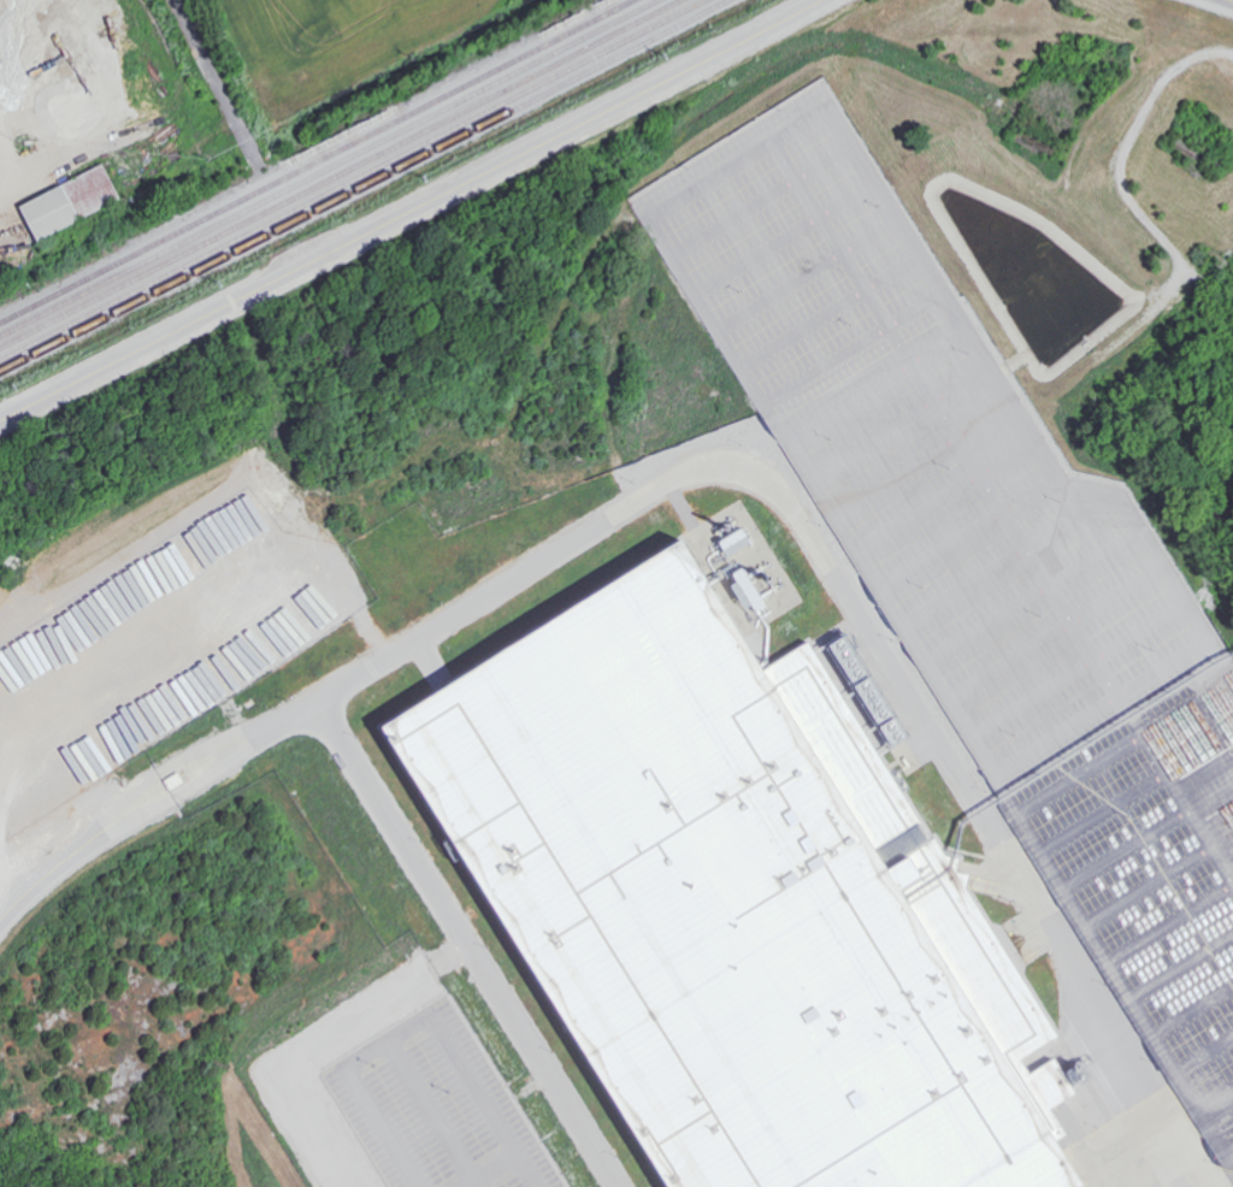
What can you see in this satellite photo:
road: (1229, 0)
railway: (889, 13)
railway: (1202, 18)
crop: (336, 37)
railway: (317, 161)
railway: (332, 169)
railway: (342, 175)
railway: (353, 179)
railway: (365, 185)
building: (75, 202)
road: (412, 212)
building: (731, 537)
building: (742, 589)
road: (355, 673)
building: (733, 902)
building: (315, 1134)

